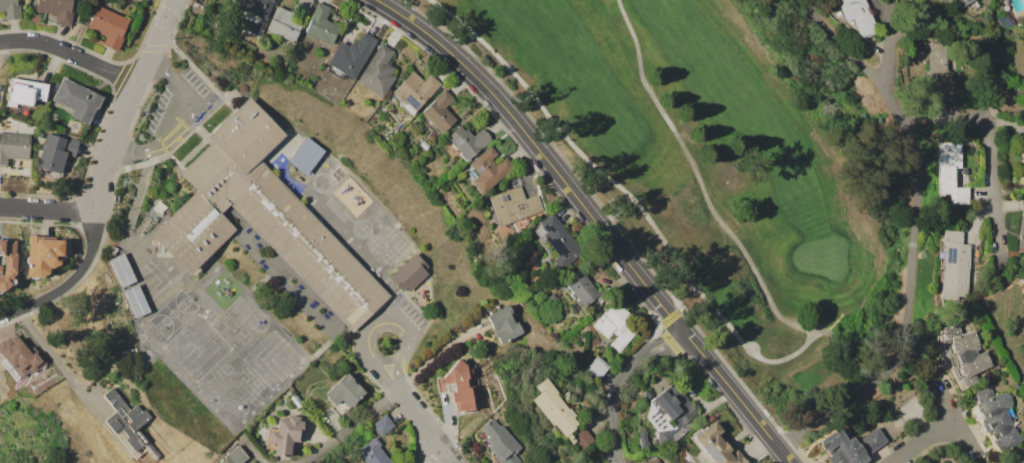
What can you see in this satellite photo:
building: (233, 0)
building: (234, 0)
building: (974, 4)
building: (303, 5)
building: (256, 6)
building: (10, 9)
building: (57, 10)
building: (197, 11)
building: (858, 17)
building: (285, 24)
building: (321, 25)
building: (108, 26)
road: (899, 41)
road: (69, 54)
building: (349, 56)
building: (378, 71)
building: (939, 71)
road: (178, 87)
building: (415, 91)
building: (25, 92)
building: (76, 100)
road: (126, 103)
parking lot: (179, 108)
building: (437, 114)
road: (171, 131)
building: (468, 141)
road: (990, 143)
building: (13, 147)
road: (134, 153)
building: (54, 154)
building: (305, 155)
building: (1021, 167)
building: (488, 169)
park: (724, 169)
building: (951, 173)
park: (321, 182)
building: (513, 205)
road: (48, 209)
track: (337, 209)
building: (263, 217)
road: (593, 220)
building: (1021, 224)
park: (361, 228)
park: (361, 229)
park: (390, 231)
road: (912, 236)
building: (557, 240)
park: (376, 244)
park: (376, 244)
park: (399, 246)
road: (89, 253)
building: (41, 255)
park: (388, 257)
building: (7, 263)
building: (953, 265)
building: (121, 269)
building: (409, 273)
park: (149, 281)
building: (581, 292)
building: (552, 298)
building: (135, 300)
road: (32, 302)
track: (239, 313)
park: (172, 314)
park: (209, 316)
park: (258, 322)
road: (383, 323)
park: (139, 324)
building: (503, 324)
building: (616, 325)
park: (187, 326)
park: (140, 337)
park: (243, 337)
track: (211, 342)
park: (215, 344)
park: (196, 347)
park: (189, 351)
park: (223, 352)
building: (962, 357)
building: (20, 358)
park: (272, 359)
road: (385, 359)
road: (56, 360)
building: (596, 368)
park: (222, 371)
park: (244, 374)
park: (192, 378)
road: (618, 383)
park: (255, 386)
building: (458, 387)
park: (213, 394)
building: (343, 394)
park: (253, 397)
building: (297, 402)
park: (237, 407)
road: (415, 414)
building: (556, 414)
building: (670, 415)
building: (994, 419)
building: (128, 425)
building: (382, 425)
road: (354, 426)
building: (285, 435)
building: (643, 439)
road: (919, 440)
building: (499, 442)
building: (717, 445)
building: (850, 446)
building: (372, 453)
road: (430, 453)
road: (255, 454)
road: (447, 454)
building: (235, 456)
building: (653, 460)

